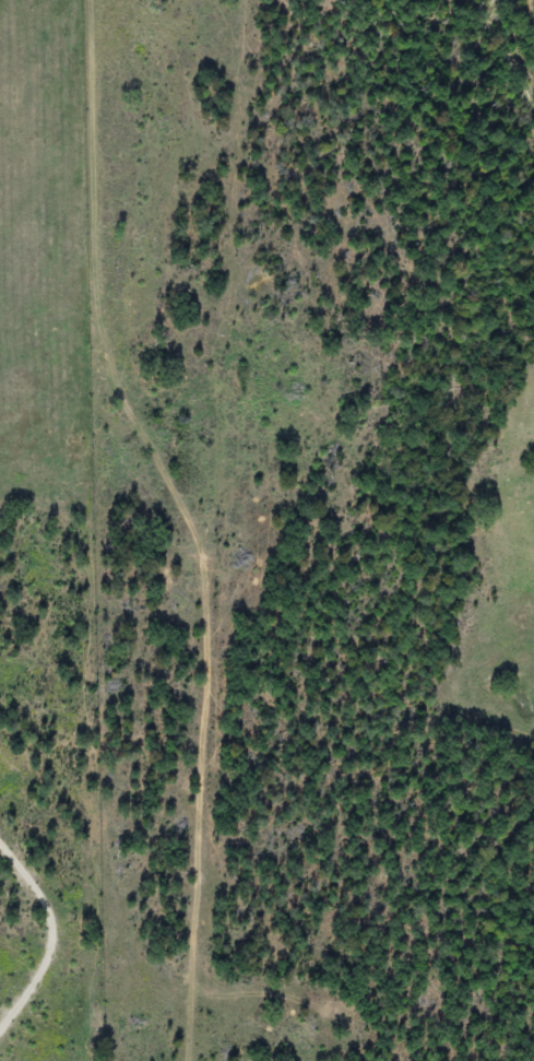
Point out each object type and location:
road: (66, 929)

